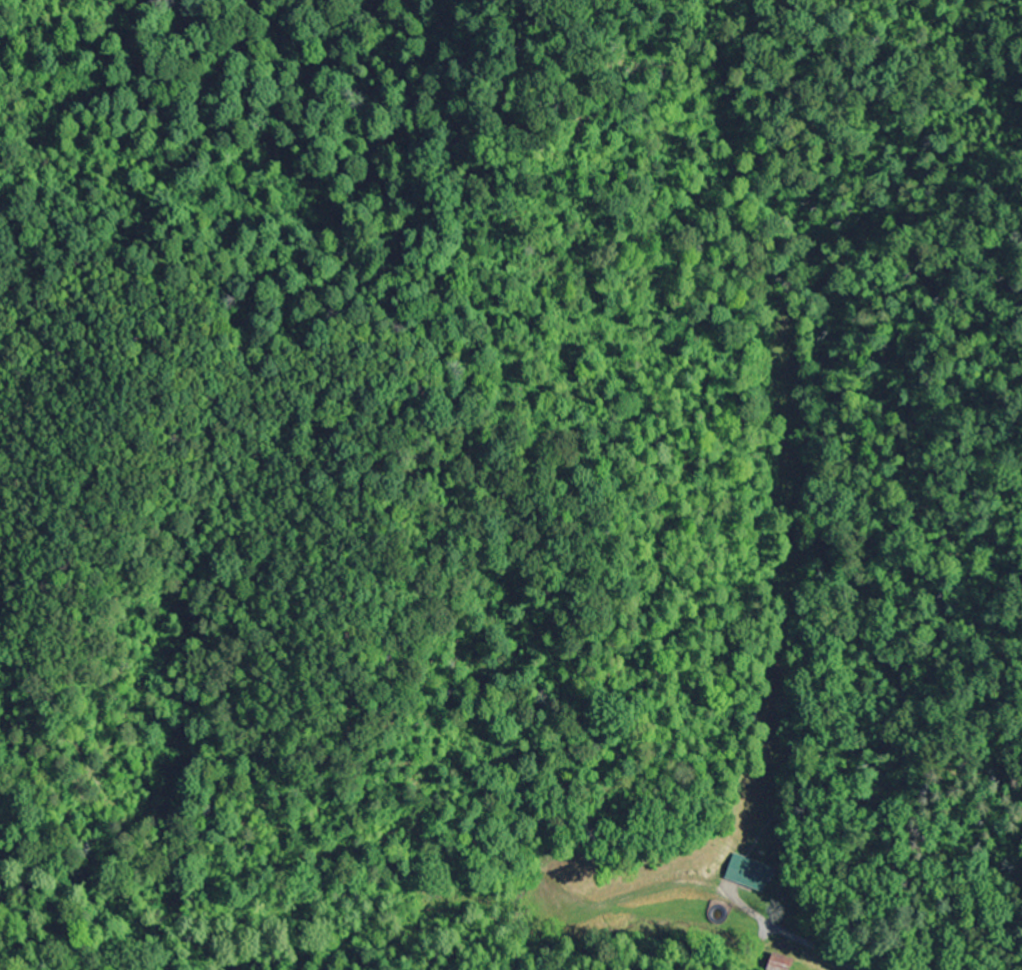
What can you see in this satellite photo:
building: (752, 874)
road: (810, 946)

